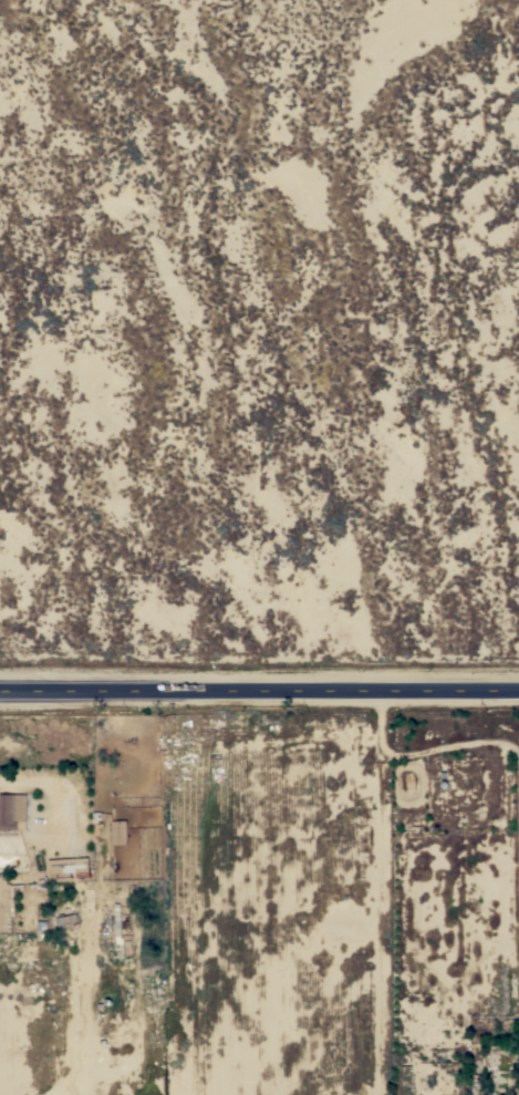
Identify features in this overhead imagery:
road: (259, 690)
building: (11, 810)
building: (118, 831)
building: (68, 868)
building: (8, 898)
building: (65, 919)
building: (117, 931)

